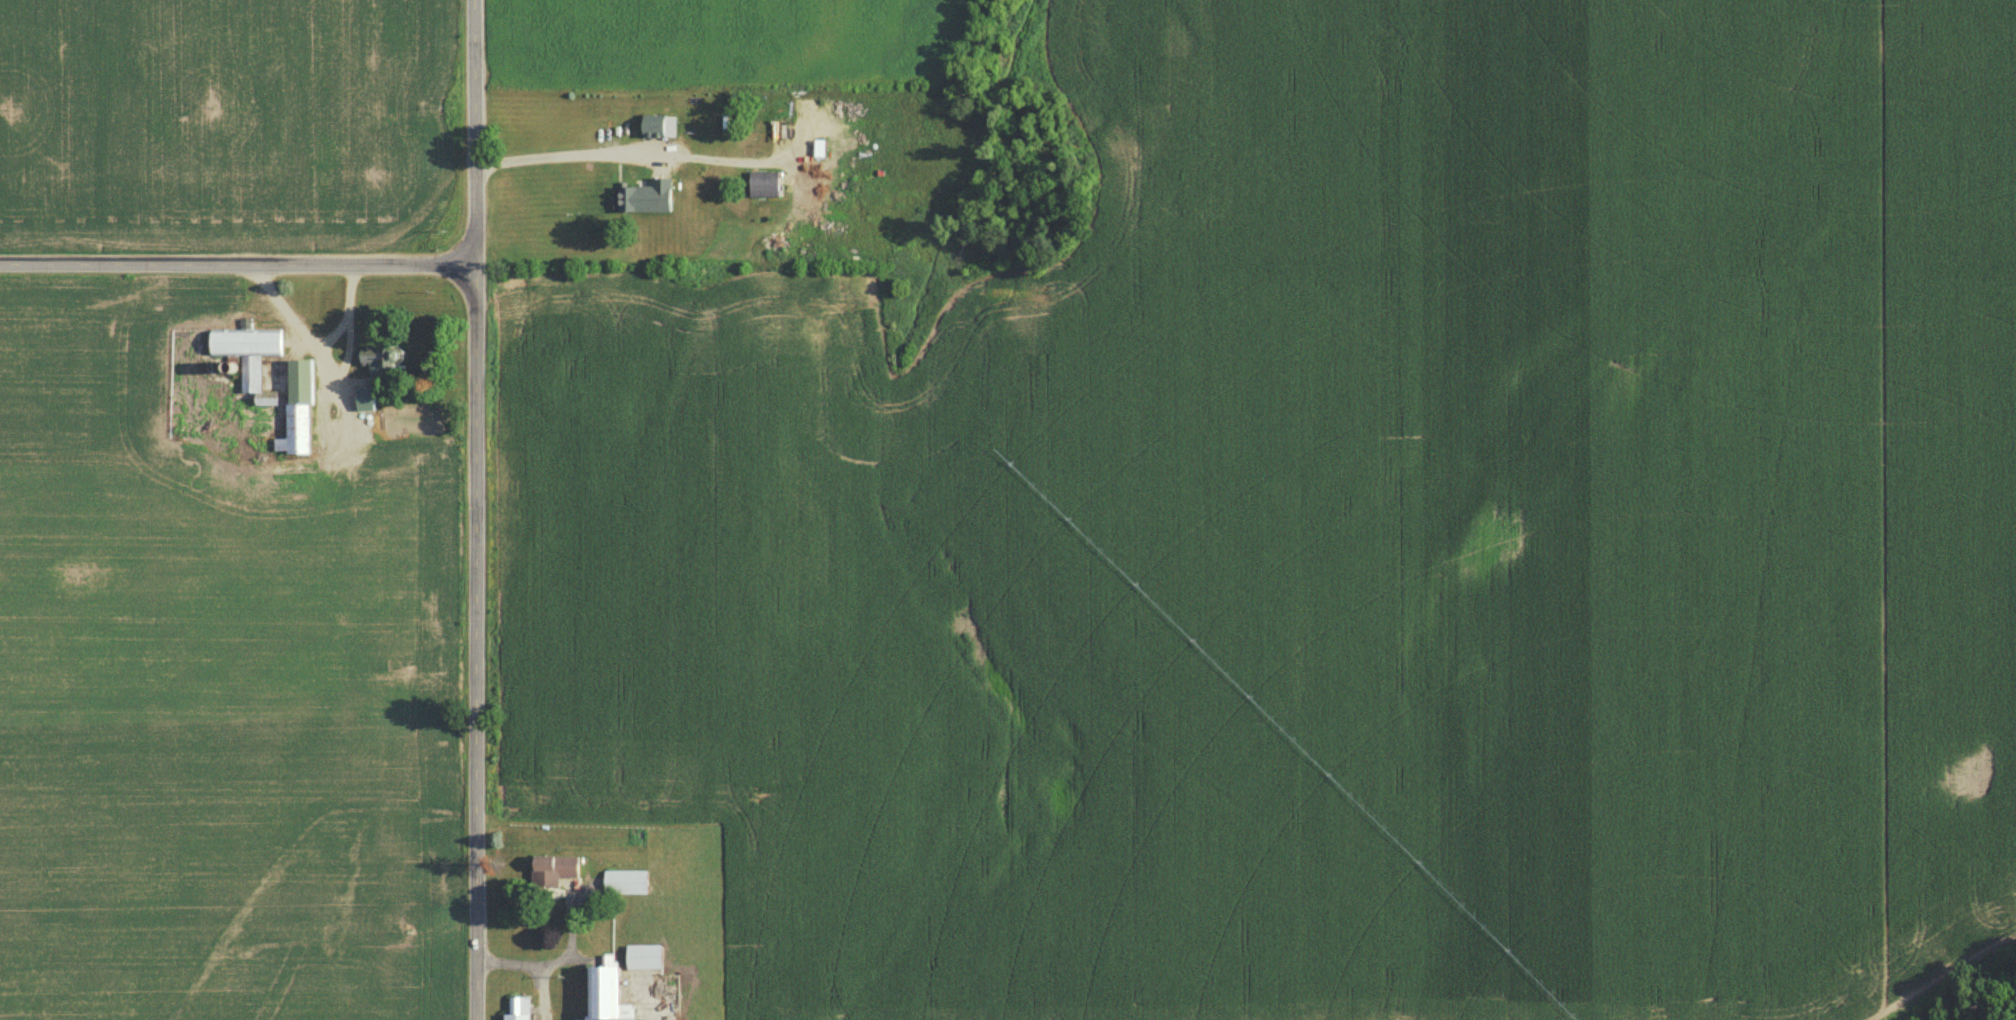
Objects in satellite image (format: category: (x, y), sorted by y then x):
building: (658, 128)
road: (475, 133)
road: (556, 157)
building: (768, 185)
building: (645, 199)
road: (238, 265)
building: (251, 354)
building: (377, 363)
building: (301, 412)
road: (478, 642)
building: (556, 871)
building: (629, 883)
building: (648, 958)
road: (535, 964)
building: (610, 993)
building: (521, 1009)

